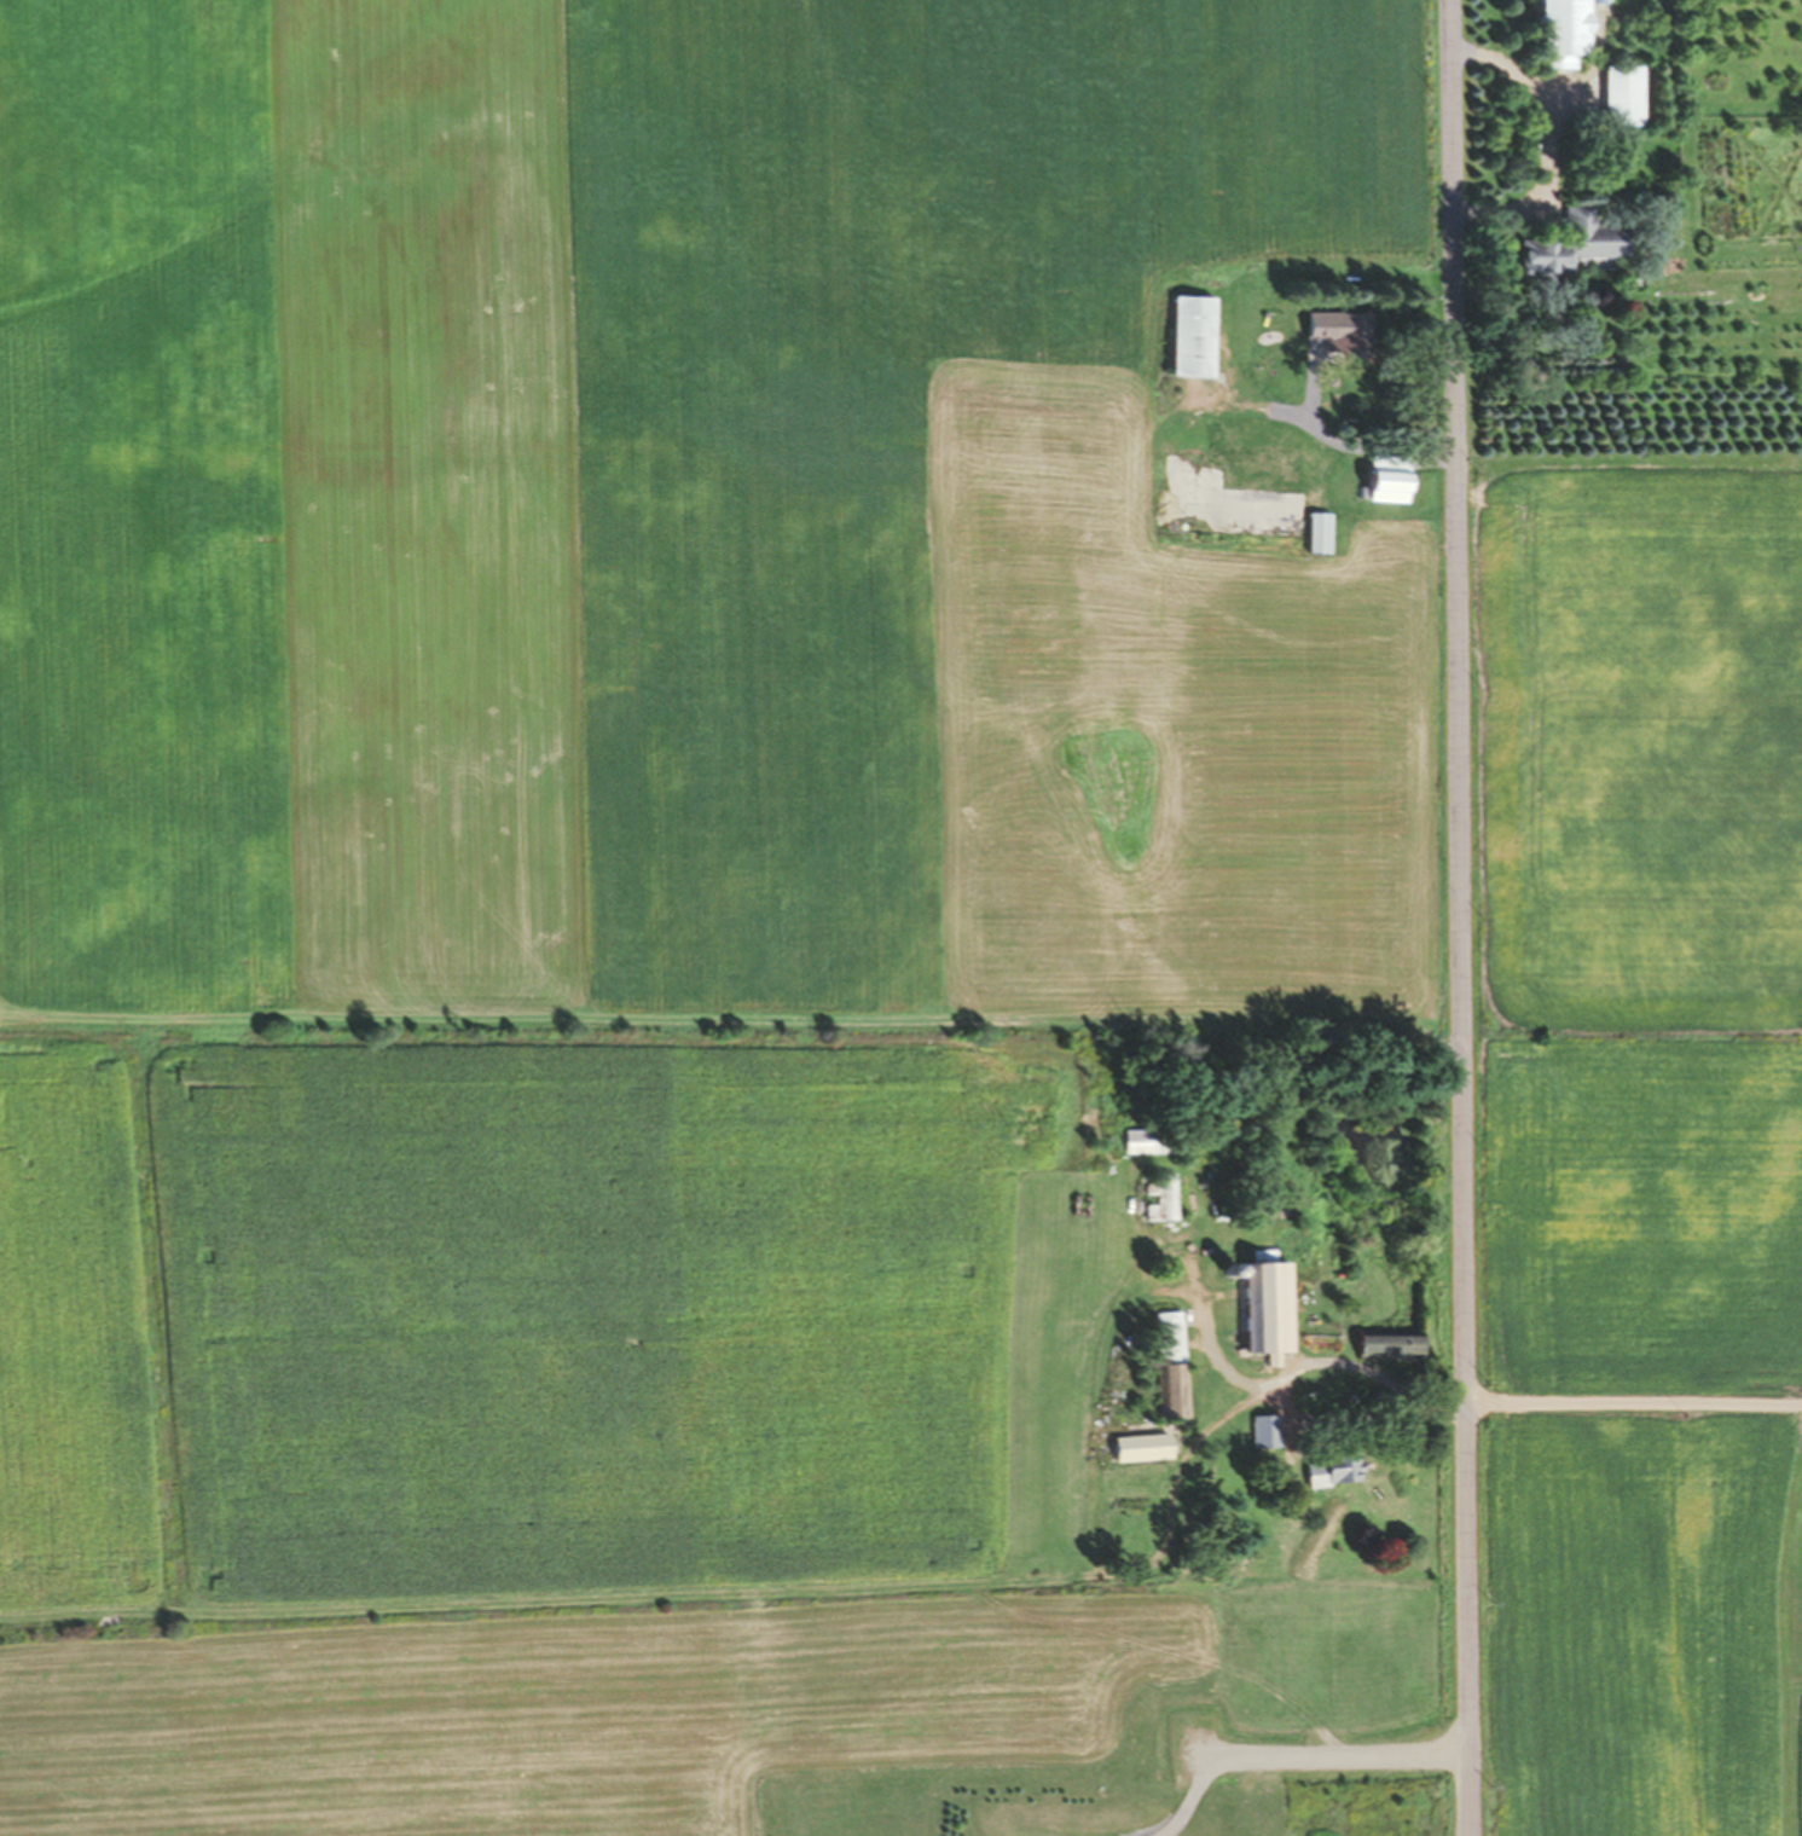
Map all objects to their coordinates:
building: (1561, 30)
building: (719, 59)
building: (1621, 94)
building: (1571, 243)
building: (730, 288)
building: (1339, 330)
building: (1192, 336)
building: (1262, 468)
building: (1386, 486)
building: (1316, 532)
road: (1456, 917)
building: (1145, 1141)
building: (1157, 1197)
building: (1263, 1309)
building: (1387, 1344)
building: (1166, 1365)
road: (1300, 1372)
road: (1632, 1403)
building: (1262, 1431)
building: (1140, 1447)
building: (1331, 1471)
road: (1293, 1759)

